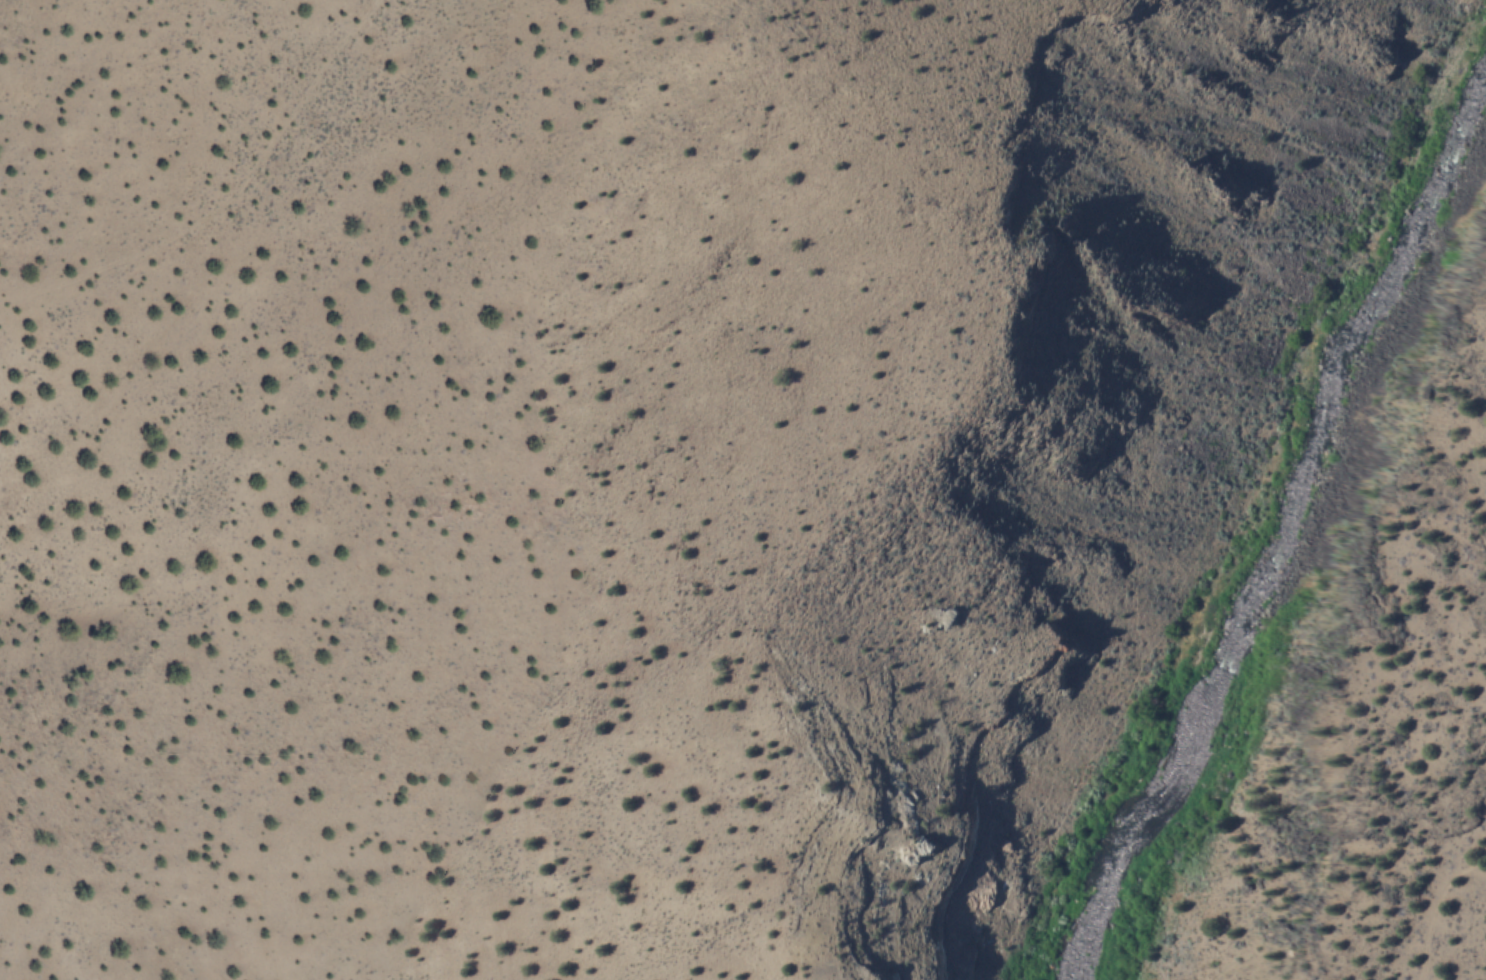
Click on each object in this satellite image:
river: (1276, 533)

